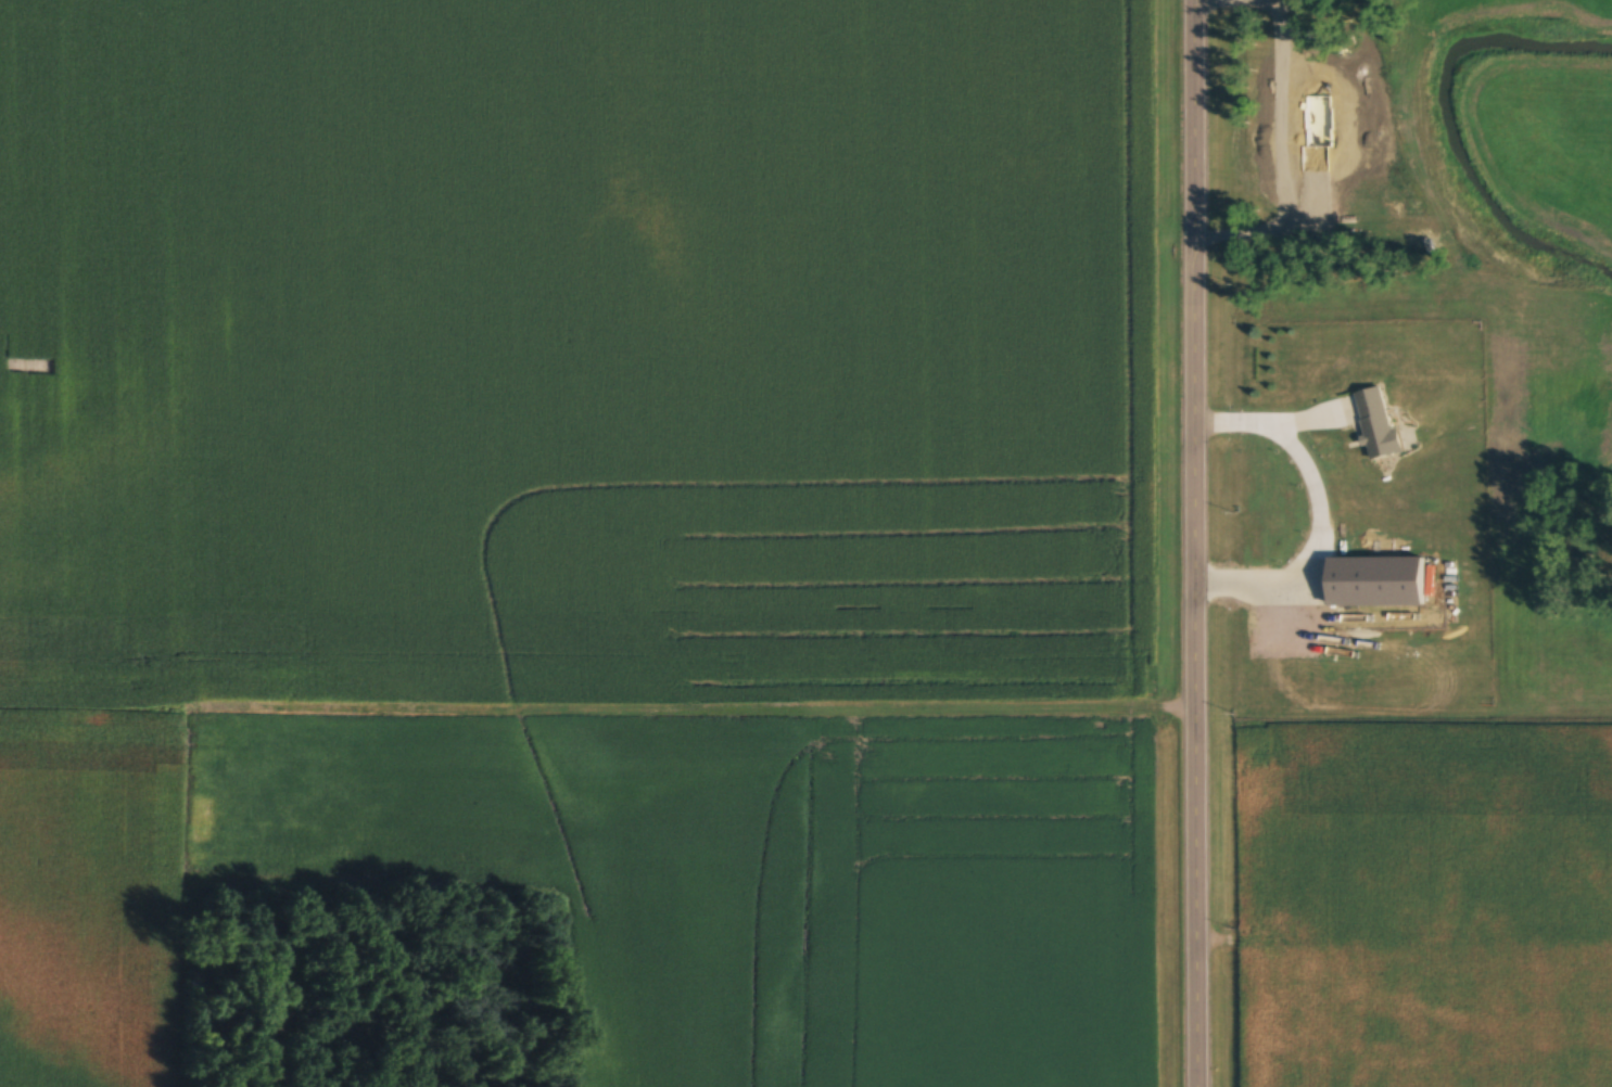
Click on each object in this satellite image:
road: (1317, 506)
road: (1193, 542)

